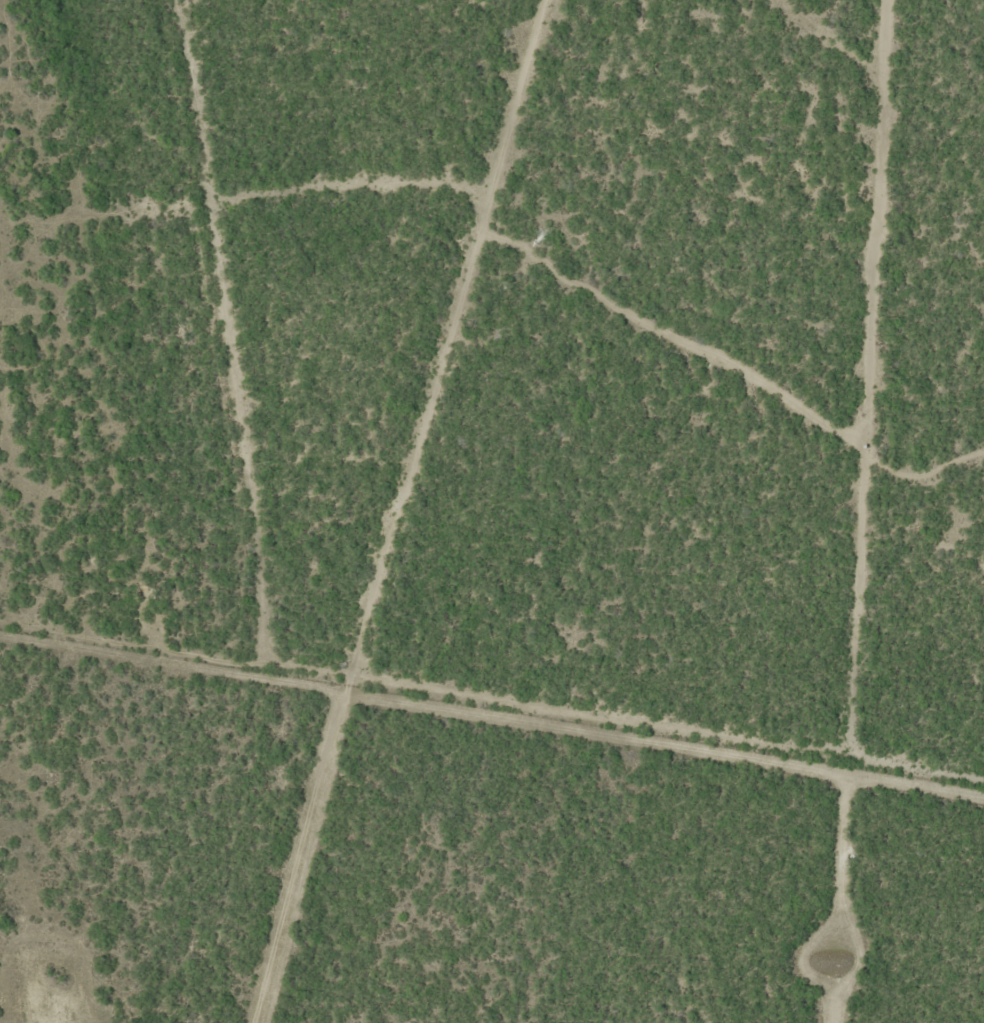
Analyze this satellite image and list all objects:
road: (250, 515)

